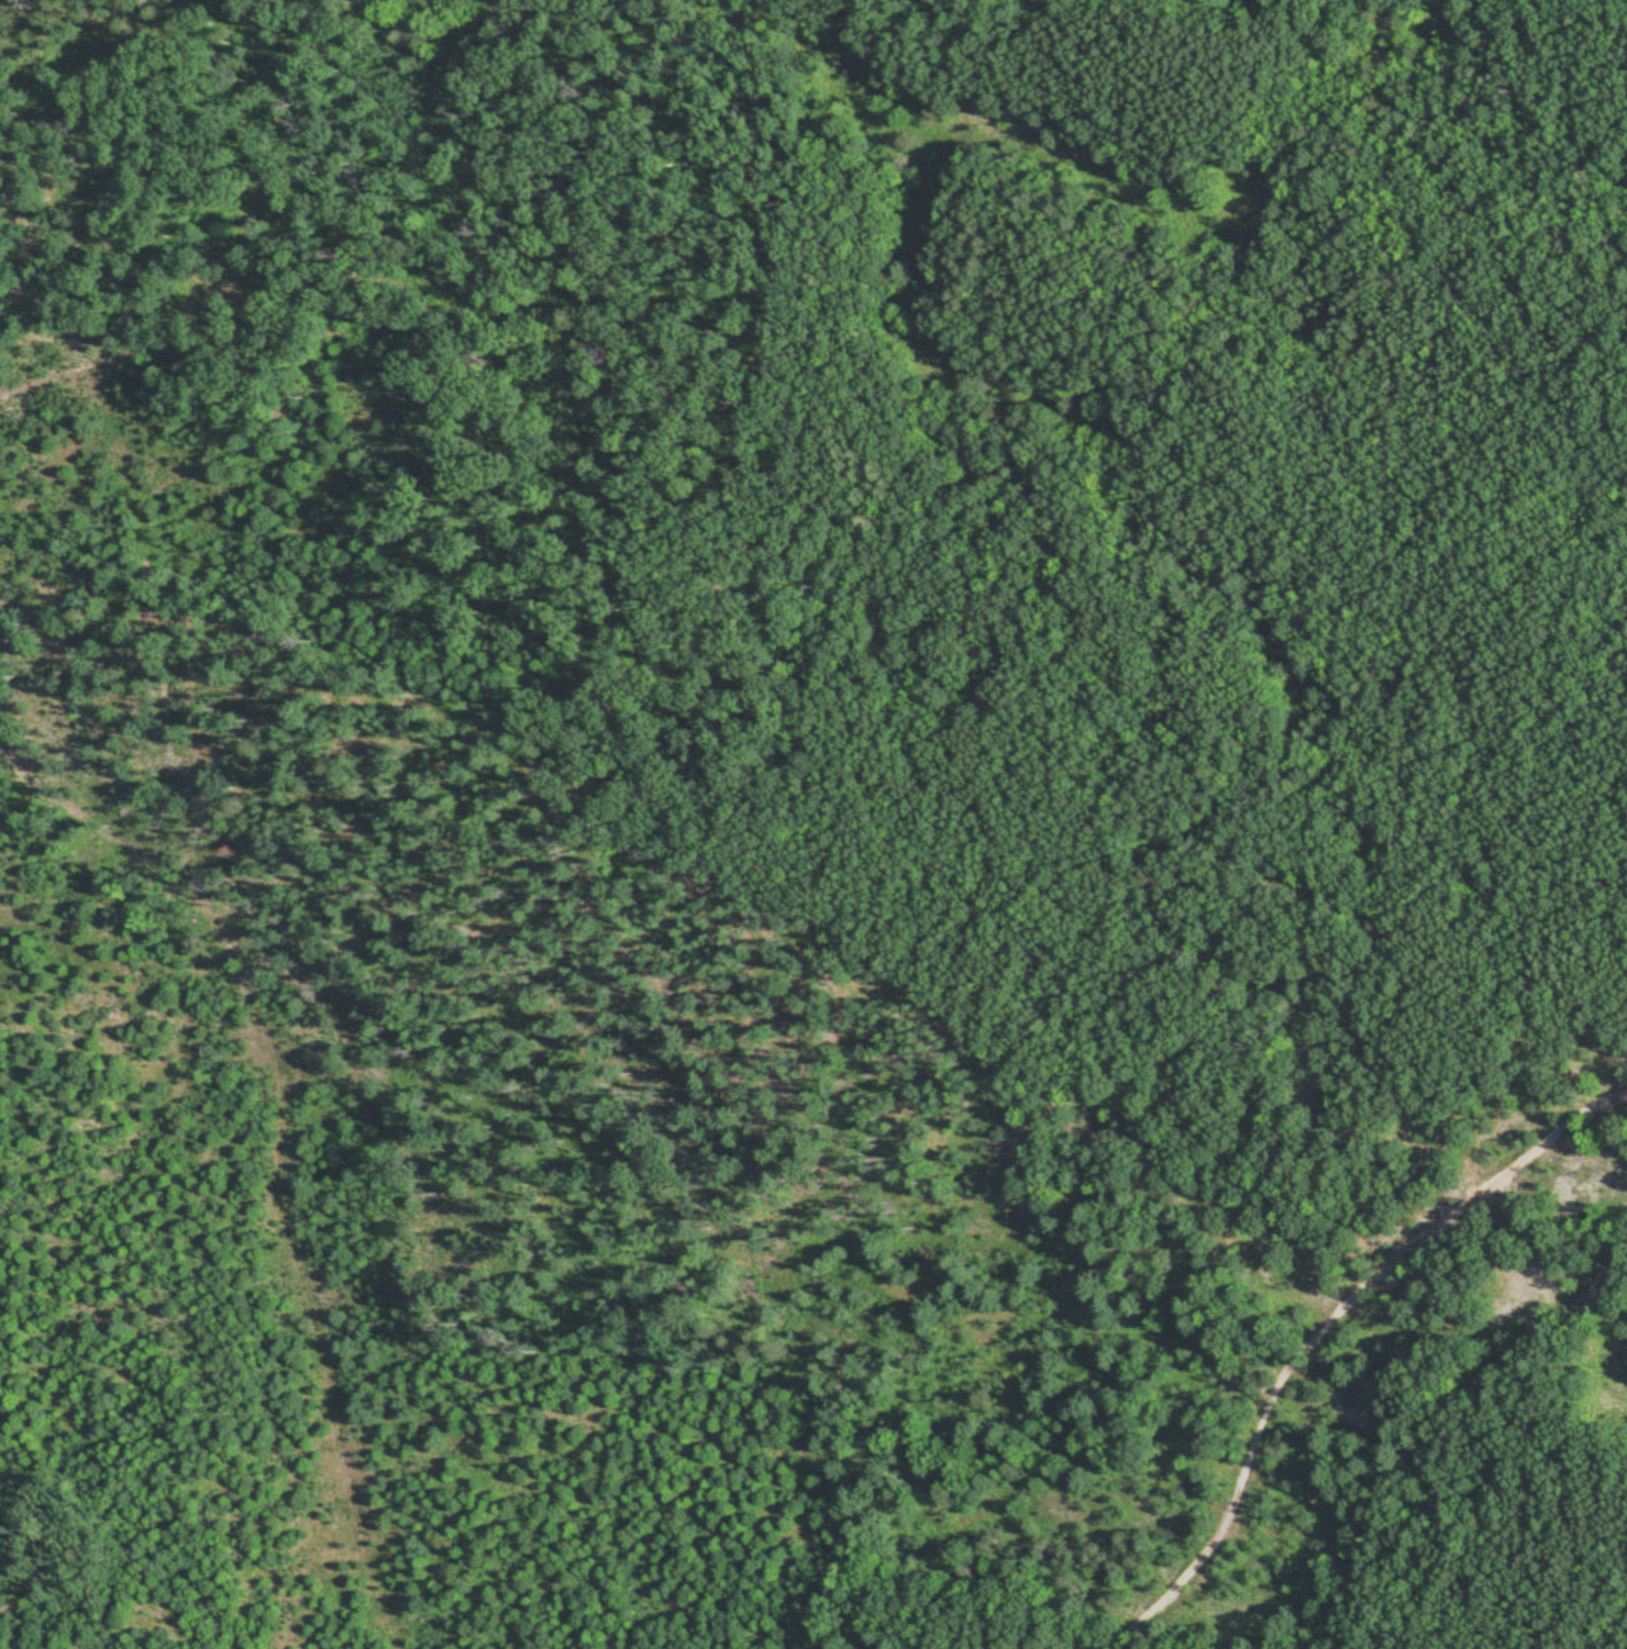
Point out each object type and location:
road: (1327, 1337)

